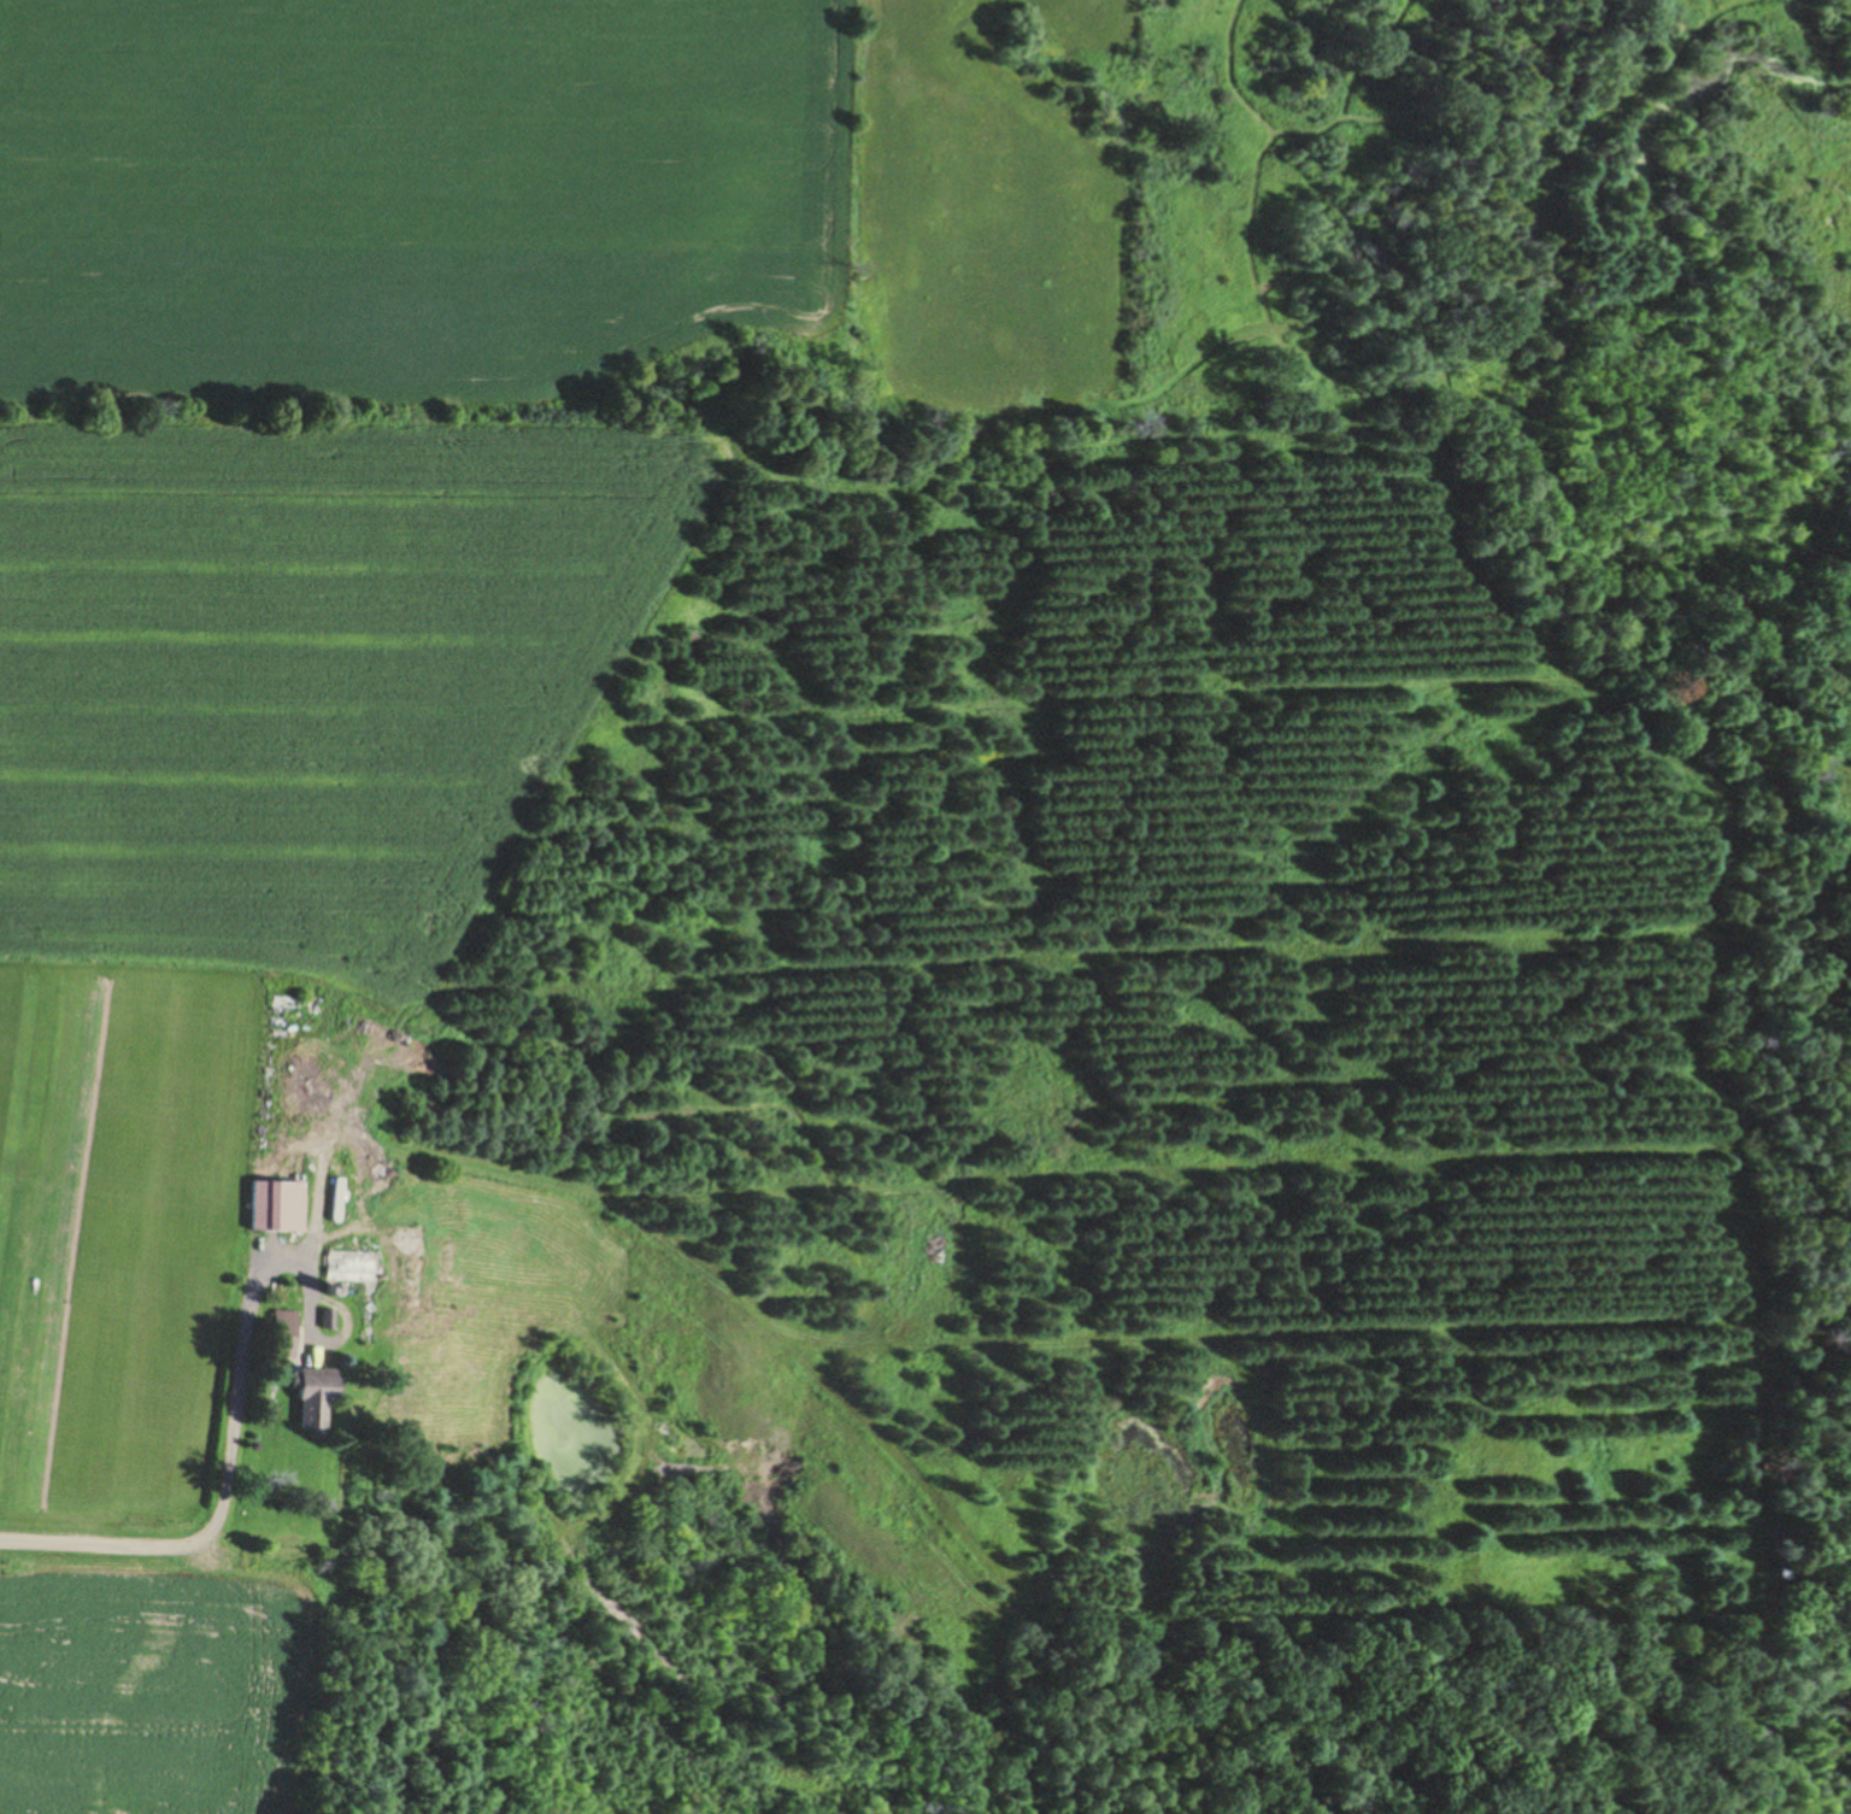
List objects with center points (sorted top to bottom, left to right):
building: (287, 1002)
building: (280, 1205)
building: (354, 1266)
building: (287, 1335)
building: (319, 1396)
road: (208, 1596)

